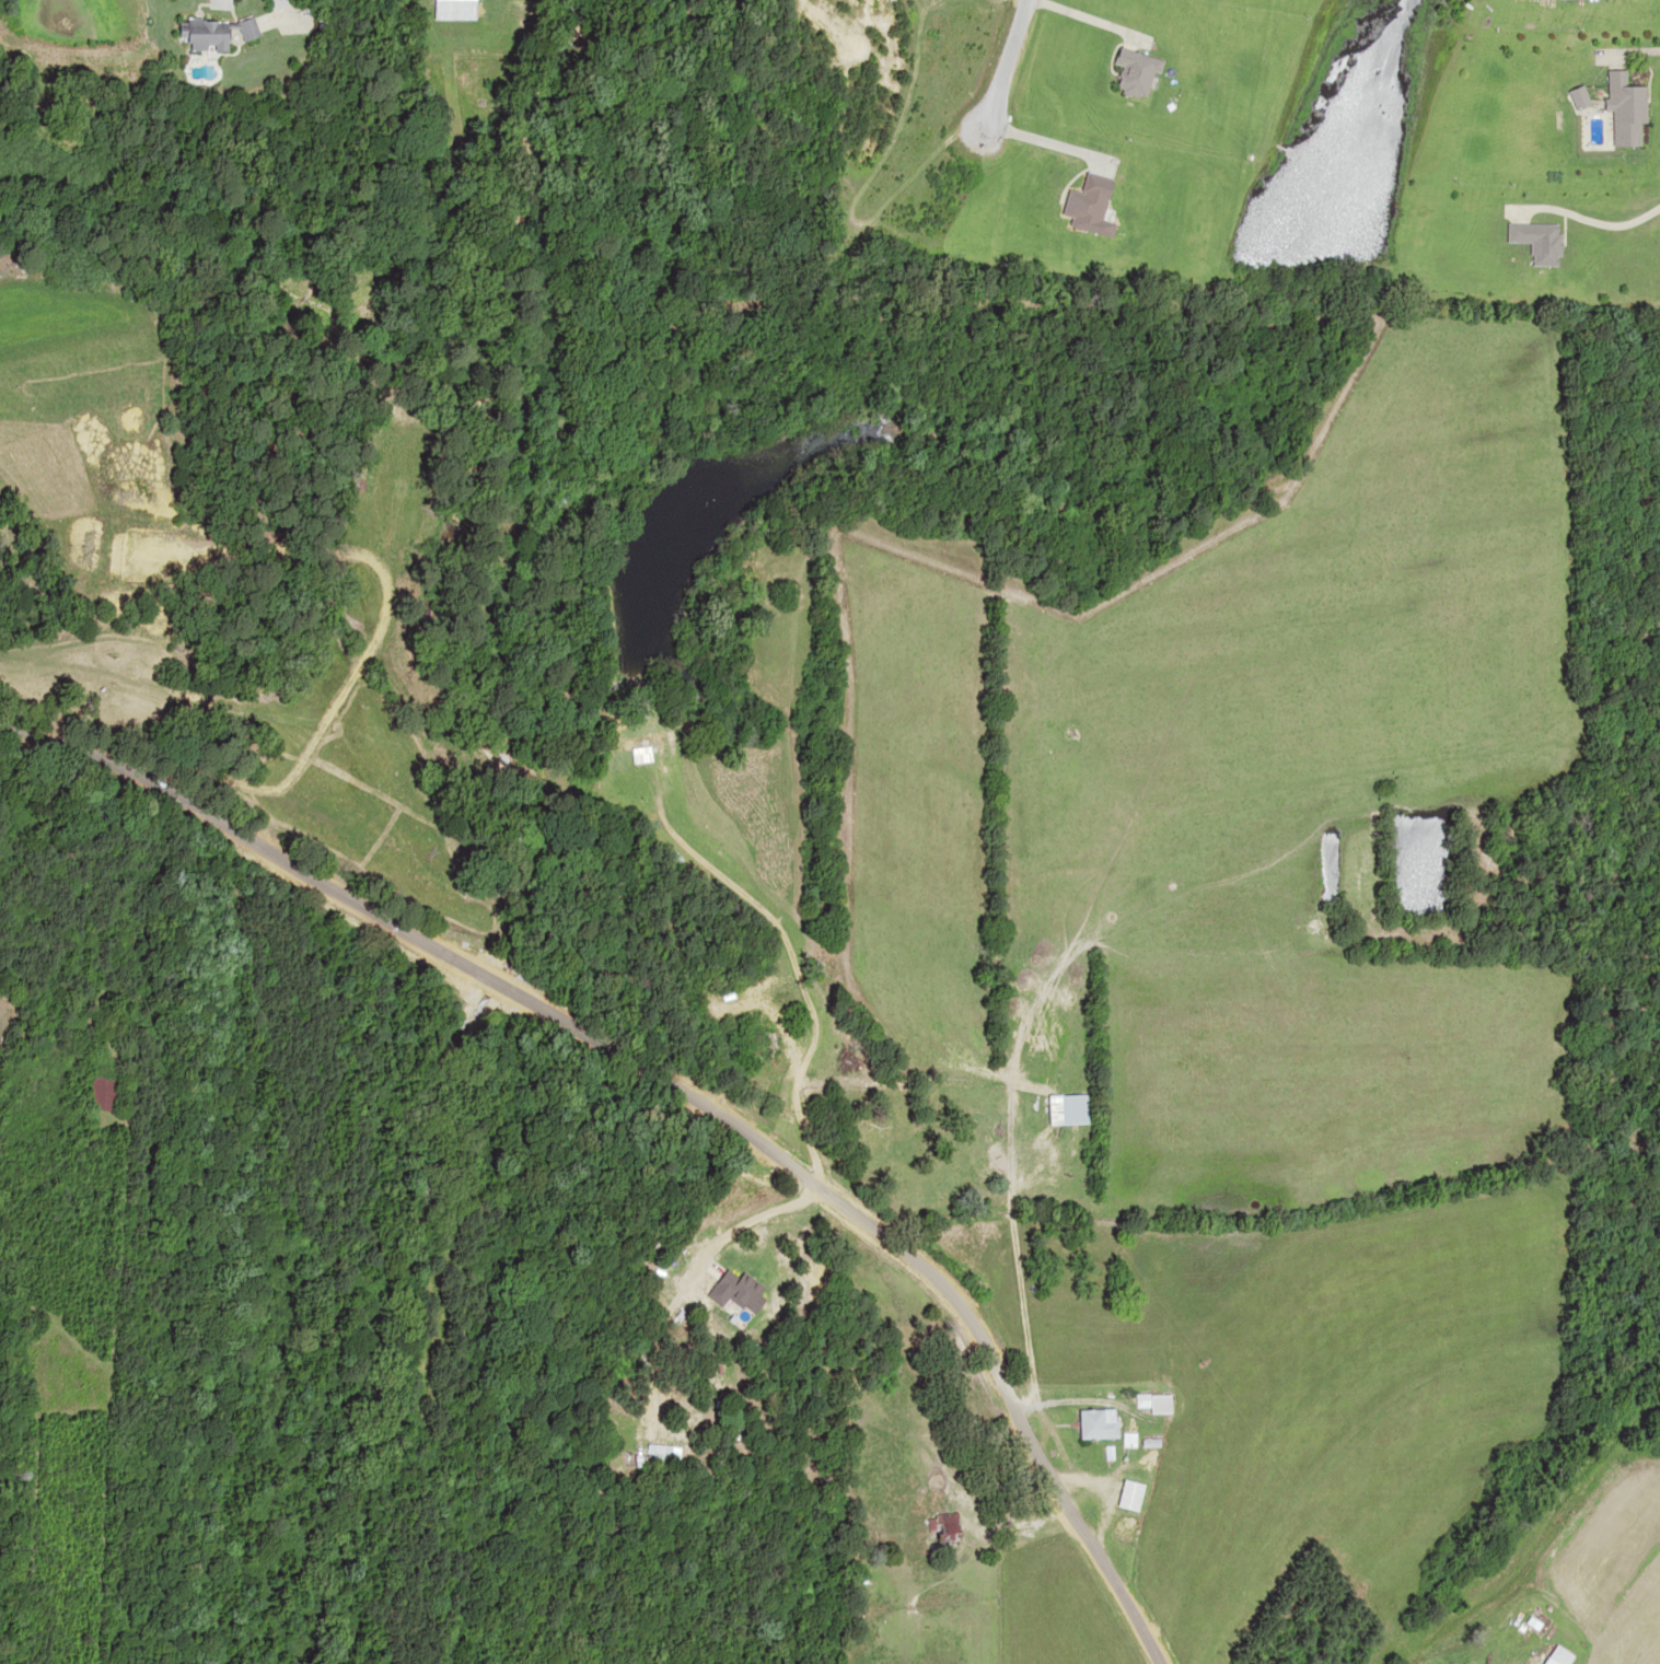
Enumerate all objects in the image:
building: (445, 9)
building: (237, 28)
building: (196, 35)
building: (1577, 96)
building: (1622, 109)
building: (639, 746)
road: (649, 1083)
building: (93, 1091)
building: (1058, 1107)
building: (729, 1289)
building: (1148, 1403)
building: (1091, 1422)
building: (650, 1453)
building: (939, 1532)
building: (1552, 1656)

